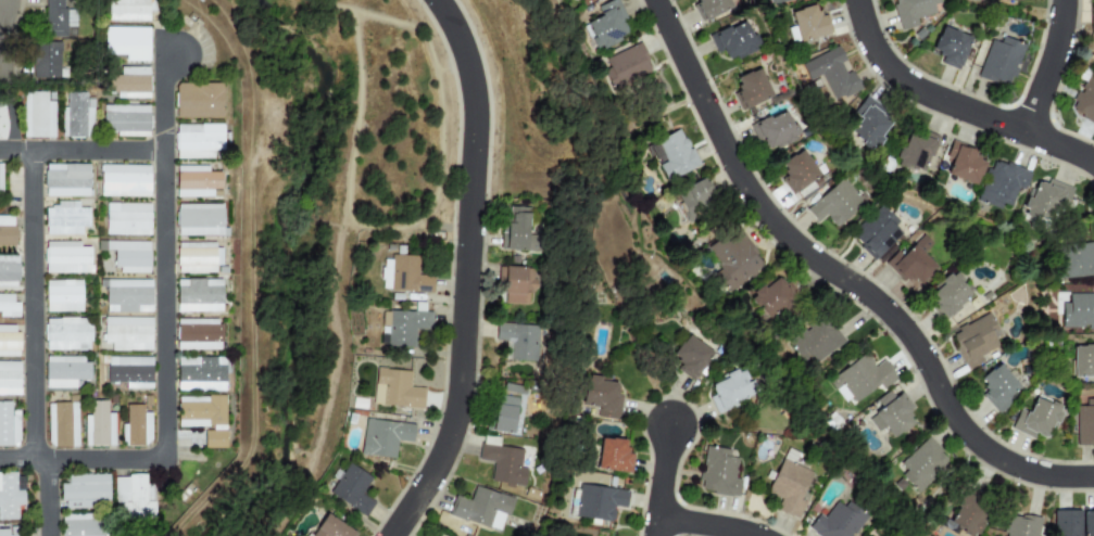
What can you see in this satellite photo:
building: (1013, 0)
building: (775, 1)
road: (335, 5)
building: (714, 8)
street lamp: (419, 9)
road: (1, 10)
building: (128, 10)
building: (1093, 10)
building: (911, 11)
building: (58, 20)
building: (808, 23)
building: (605, 25)
road: (418, 31)
street lamp: (691, 35)
building: (731, 41)
building: (126, 42)
building: (950, 47)
building: (46, 60)
building: (999, 61)
road: (451, 66)
building: (625, 66)
road: (1048, 67)
building: (829, 74)
building: (129, 82)
building: (751, 88)
building: (1084, 99)
building: (198, 100)
road: (953, 105)
road: (8, 112)
building: (36, 115)
building: (75, 116)
building: (125, 120)
building: (2, 123)
building: (868, 124)
building: (774, 130)
building: (197, 140)
building: (915, 150)
road: (80, 151)
building: (672, 155)
building: (964, 163)
street lamp: (715, 169)
building: (796, 170)
building: (65, 180)
building: (124, 180)
building: (196, 181)
building: (0, 183)
building: (1001, 184)
building: (694, 199)
building: (834, 204)
building: (1044, 205)
building: (65, 218)
building: (127, 218)
building: (199, 220)
building: (516, 229)
building: (7, 230)
building: (876, 232)
building: (129, 256)
building: (66, 257)
building: (197, 258)
building: (733, 258)
building: (1074, 260)
building: (911, 261)
road: (255, 267)
building: (9, 271)
road: (465, 272)
building: (402, 275)
road: (841, 279)
building: (518, 285)
building: (62, 295)
building: (198, 295)
building: (947, 295)
building: (127, 296)
building: (771, 297)
building: (8, 306)
building: (1078, 310)
building: (402, 328)
building: (127, 333)
road: (163, 333)
building: (67, 334)
building: (198, 334)
building: (974, 340)
building: (9, 341)
building: (517, 342)
building: (815, 342)
road: (32, 344)
building: (690, 357)
building: (1082, 361)
building: (65, 371)
building: (130, 371)
street lamp: (910, 373)
building: (200, 374)
building: (9, 378)
building: (860, 378)
road: (329, 381)
building: (996, 386)
building: (395, 390)
building: (728, 391)
building: (601, 397)
building: (891, 413)
building: (504, 414)
building: (203, 418)
building: (1035, 418)
building: (1084, 423)
building: (61, 424)
building: (98, 425)
building: (8, 426)
building: (135, 426)
building: (383, 437)
building: (613, 456)
street lamp: (176, 463)
building: (503, 464)
building: (922, 464)
building: (718, 472)
road: (661, 481)
street lamp: (1013, 485)
building: (789, 487)
building: (352, 489)
building: (84, 490)
building: (9, 497)
building: (134, 497)
building: (598, 502)
building: (481, 509)
street lamp: (739, 513)
building: (968, 514)
building: (837, 521)
building: (1086, 522)
building: (1066, 523)
building: (81, 525)
road: (704, 525)
building: (1020, 525)
building: (330, 527)
building: (3, 533)

